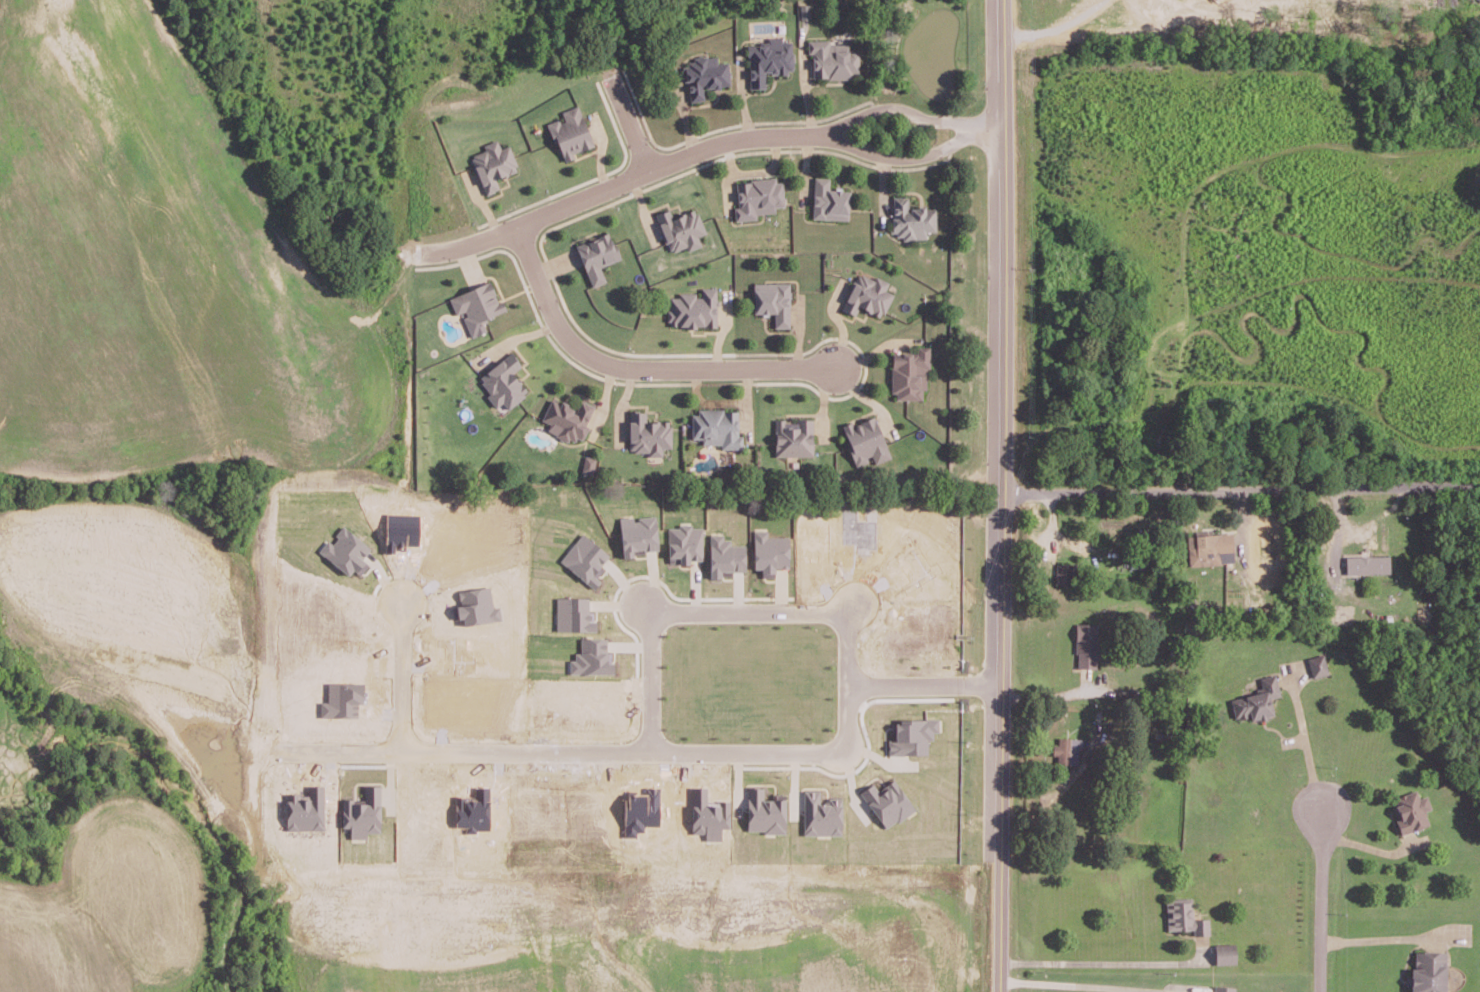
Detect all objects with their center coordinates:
building: (769, 60)
building: (705, 76)
road: (911, 112)
road: (632, 117)
building: (571, 132)
road: (915, 159)
building: (494, 164)
road: (617, 185)
building: (758, 197)
building: (829, 200)
building: (911, 219)
building: (681, 229)
building: (597, 256)
building: (868, 295)
building: (773, 301)
building: (477, 306)
building: (693, 308)
road: (636, 370)
building: (909, 374)
building: (504, 382)
building: (568, 419)
building: (717, 427)
building: (648, 434)
building: (793, 437)
building: (866, 440)
building: (588, 464)
road: (1243, 491)
road: (1005, 496)
building: (638, 534)
building: (685, 543)
building: (1210, 548)
building: (346, 551)
building: (770, 552)
building: (726, 556)
building: (585, 559)
building: (1368, 564)
building: (477, 606)
road: (717, 610)
building: (573, 614)
building: (1088, 645)
building: (592, 657)
building: (1317, 665)
road: (1050, 694)
building: (342, 699)
building: (1257, 700)
building: (912, 736)
road: (1305, 744)
building: (1070, 750)
road: (662, 752)
building: (887, 802)
building: (1411, 810)
building: (765, 811)
building: (363, 813)
building: (708, 814)
building: (821, 814)
road: (1369, 847)
road: (1320, 901)
building: (1184, 916)
road: (1377, 933)
building: (1225, 953)
road: (1101, 960)
building: (1429, 971)
road: (1092, 984)

